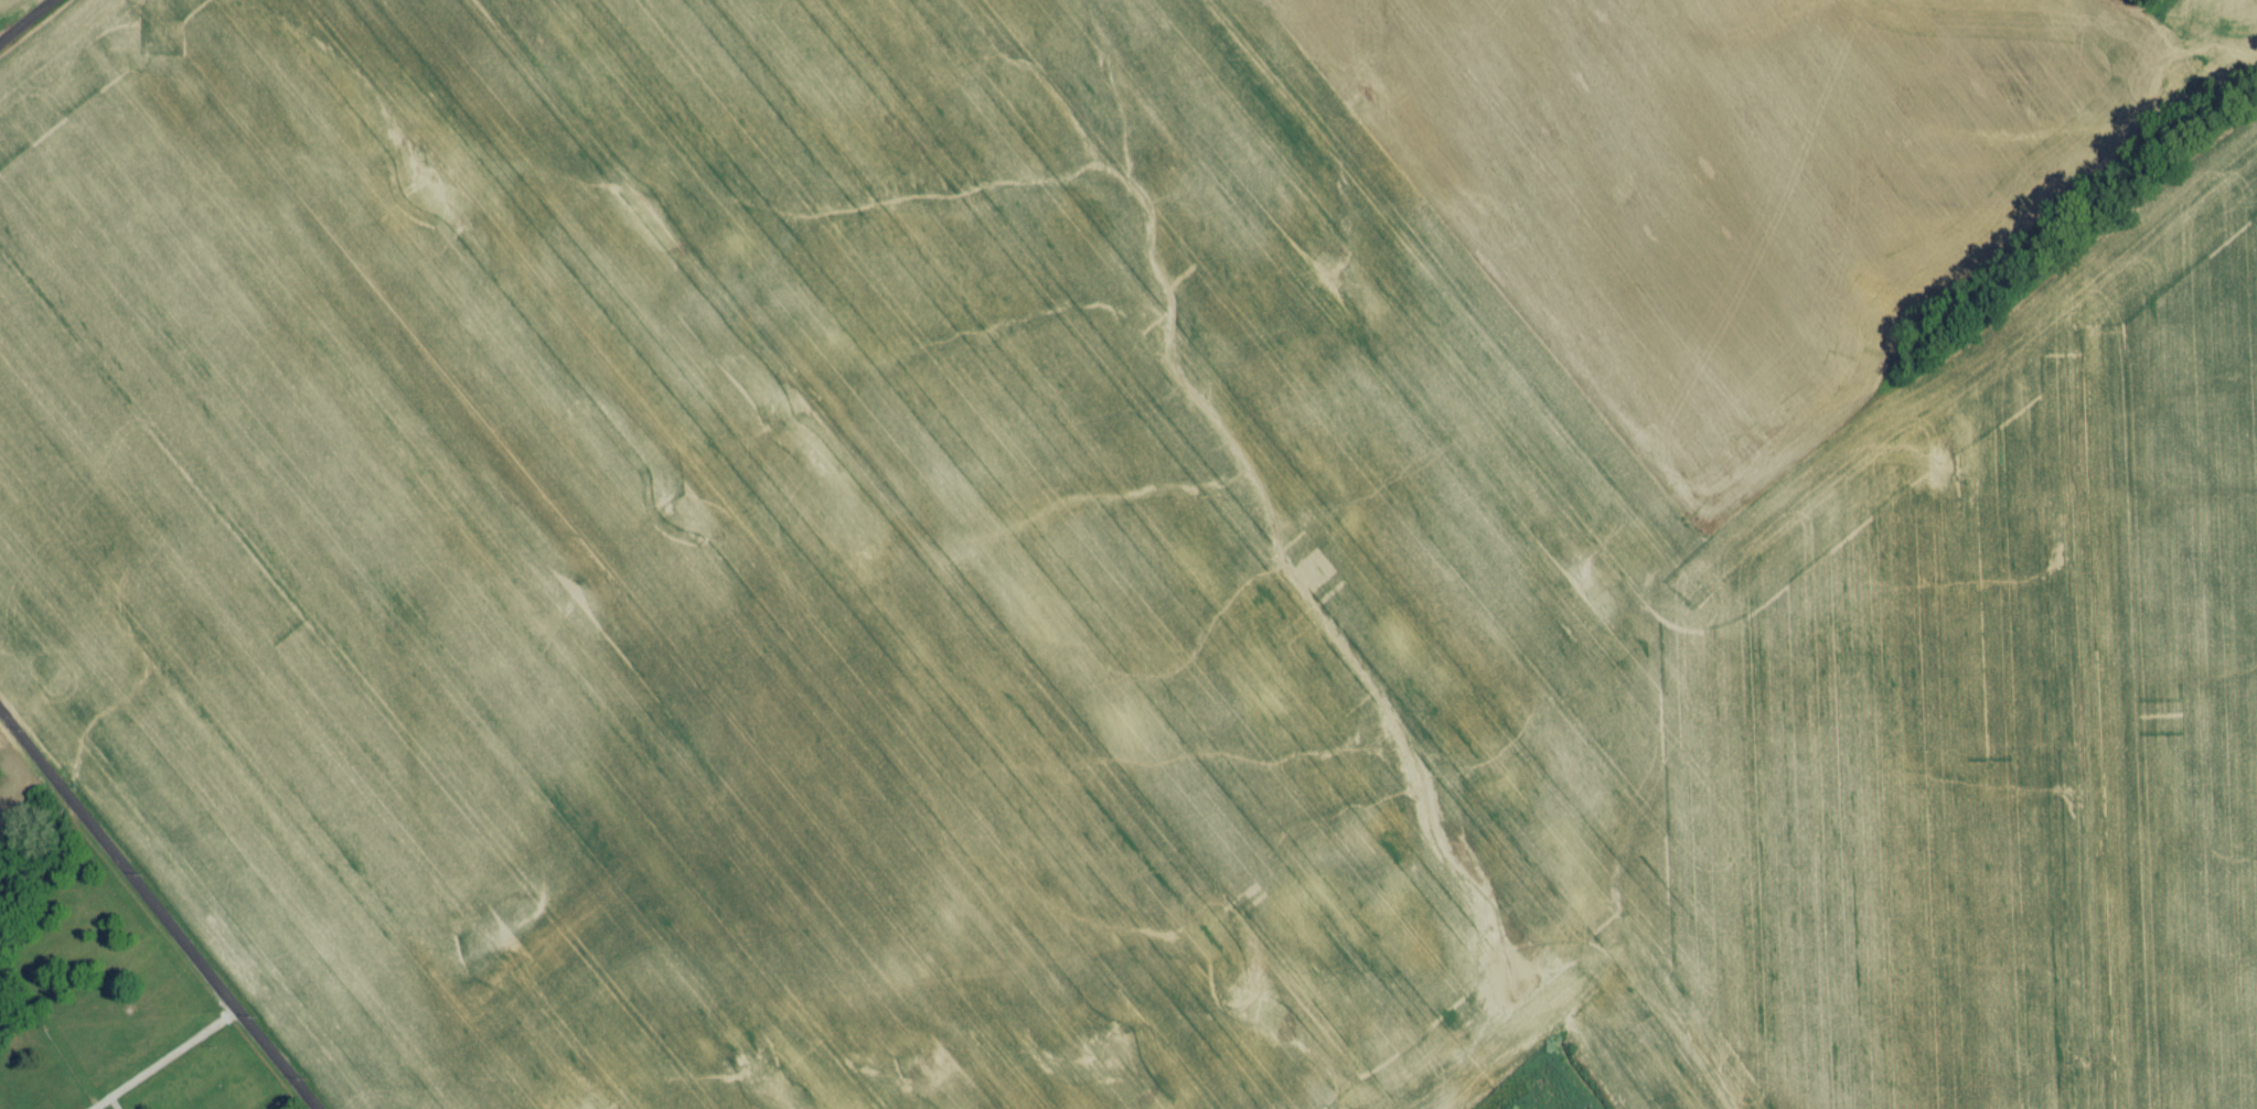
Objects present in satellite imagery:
road: (40, 33)
road: (153, 918)
road: (161, 1062)

